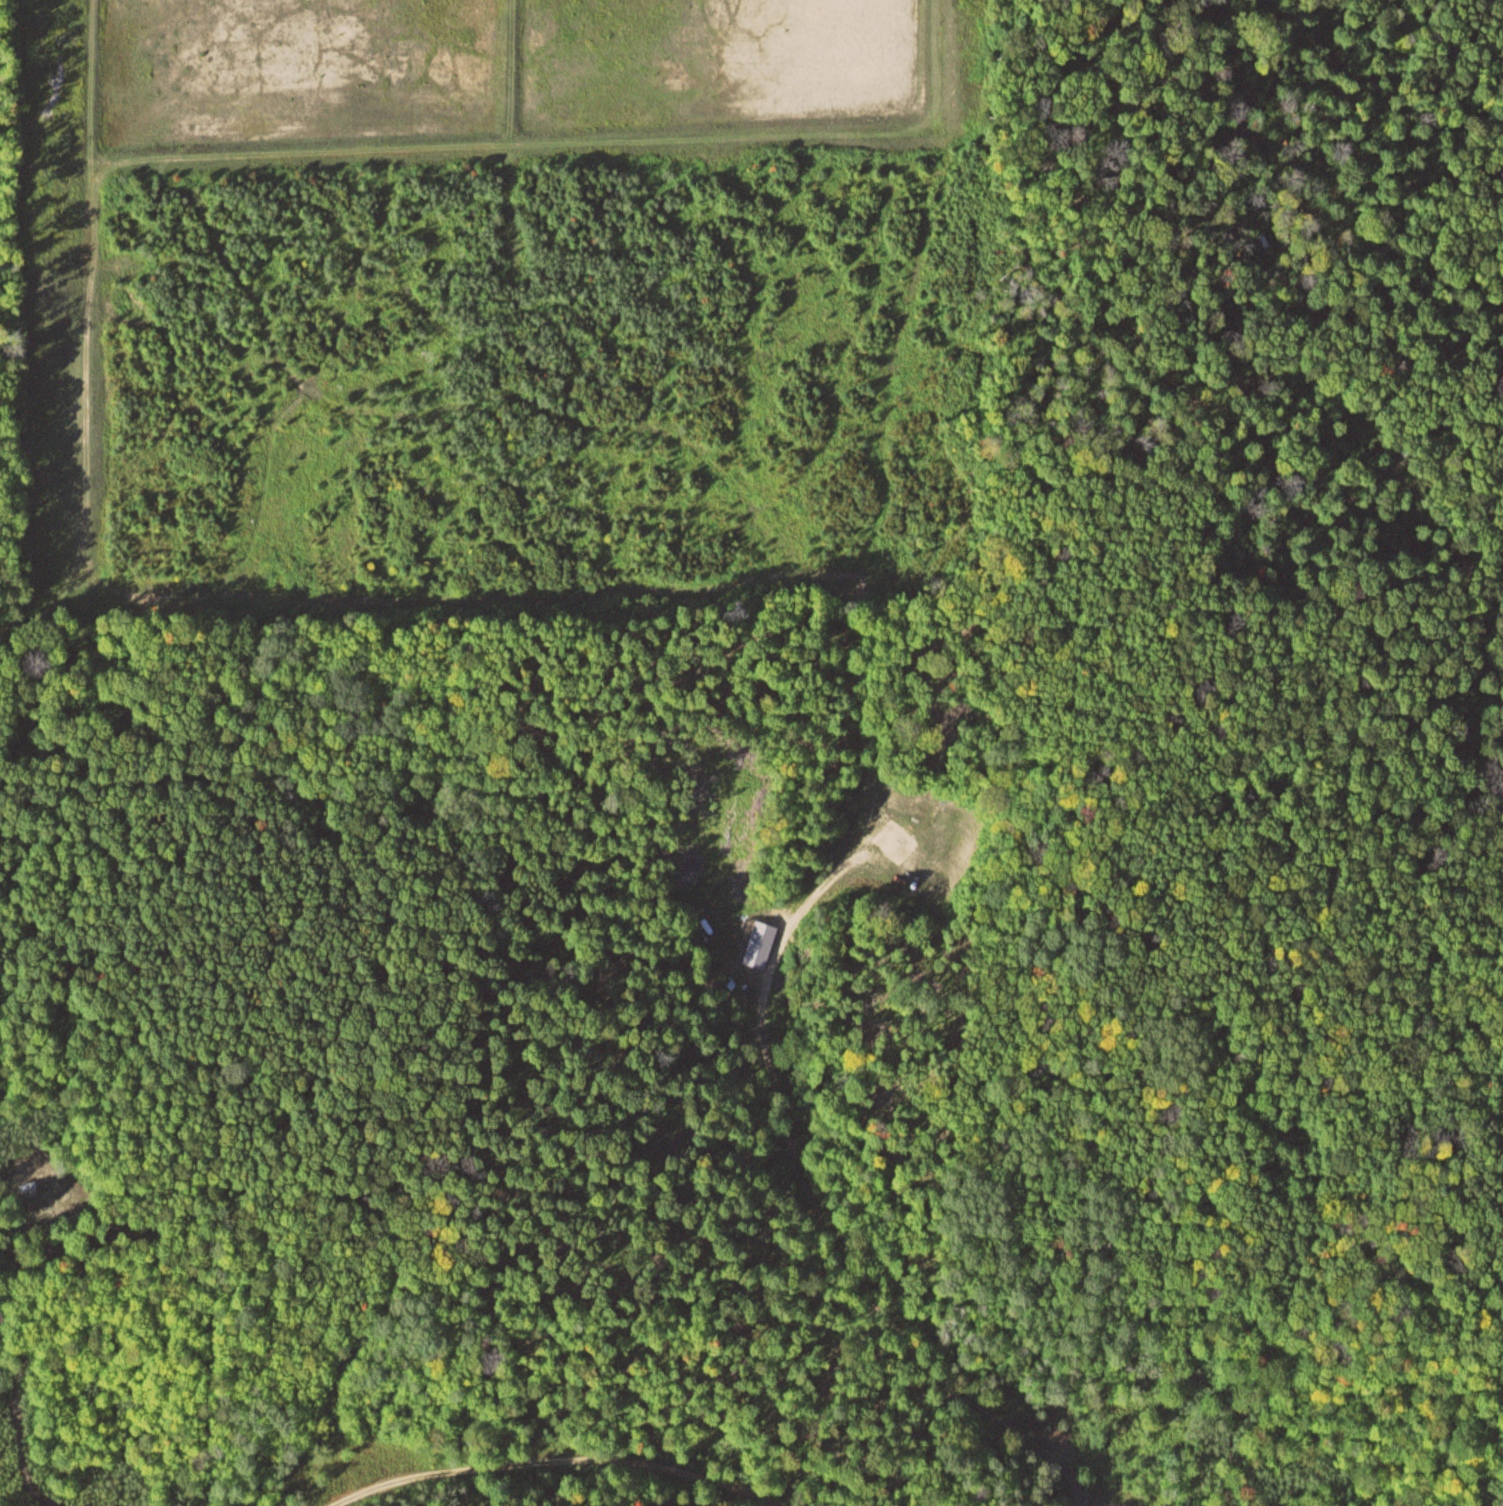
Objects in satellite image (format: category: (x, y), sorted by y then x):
road: (804, 1149)
road: (545, 1467)
road: (1102, 1503)

